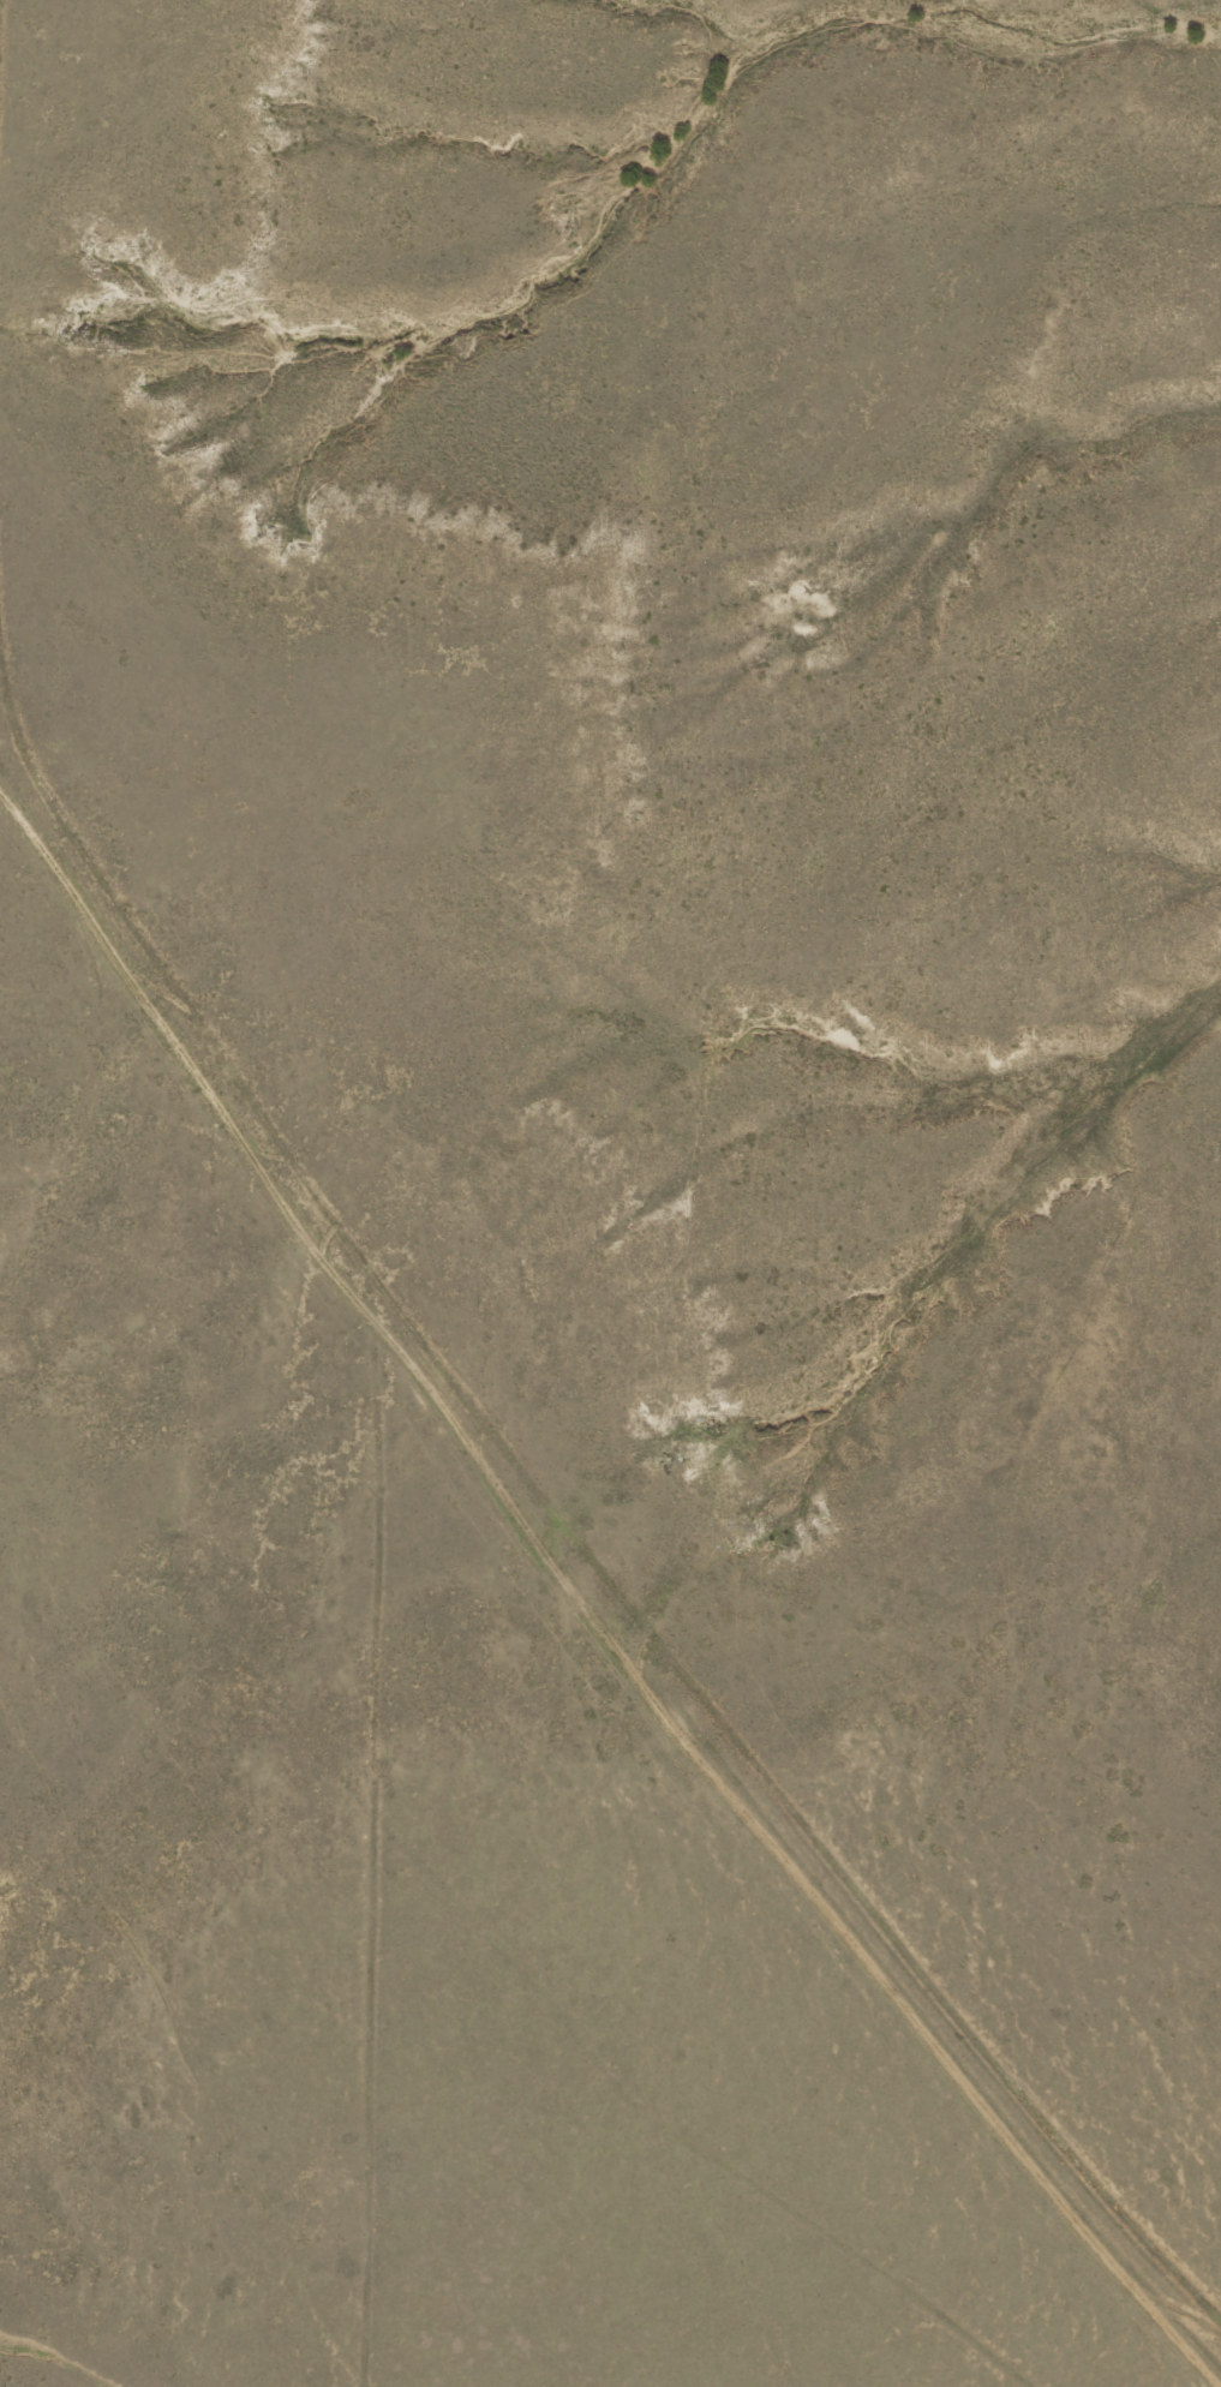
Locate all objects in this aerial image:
road: (297, 1567)
road: (759, 1844)

